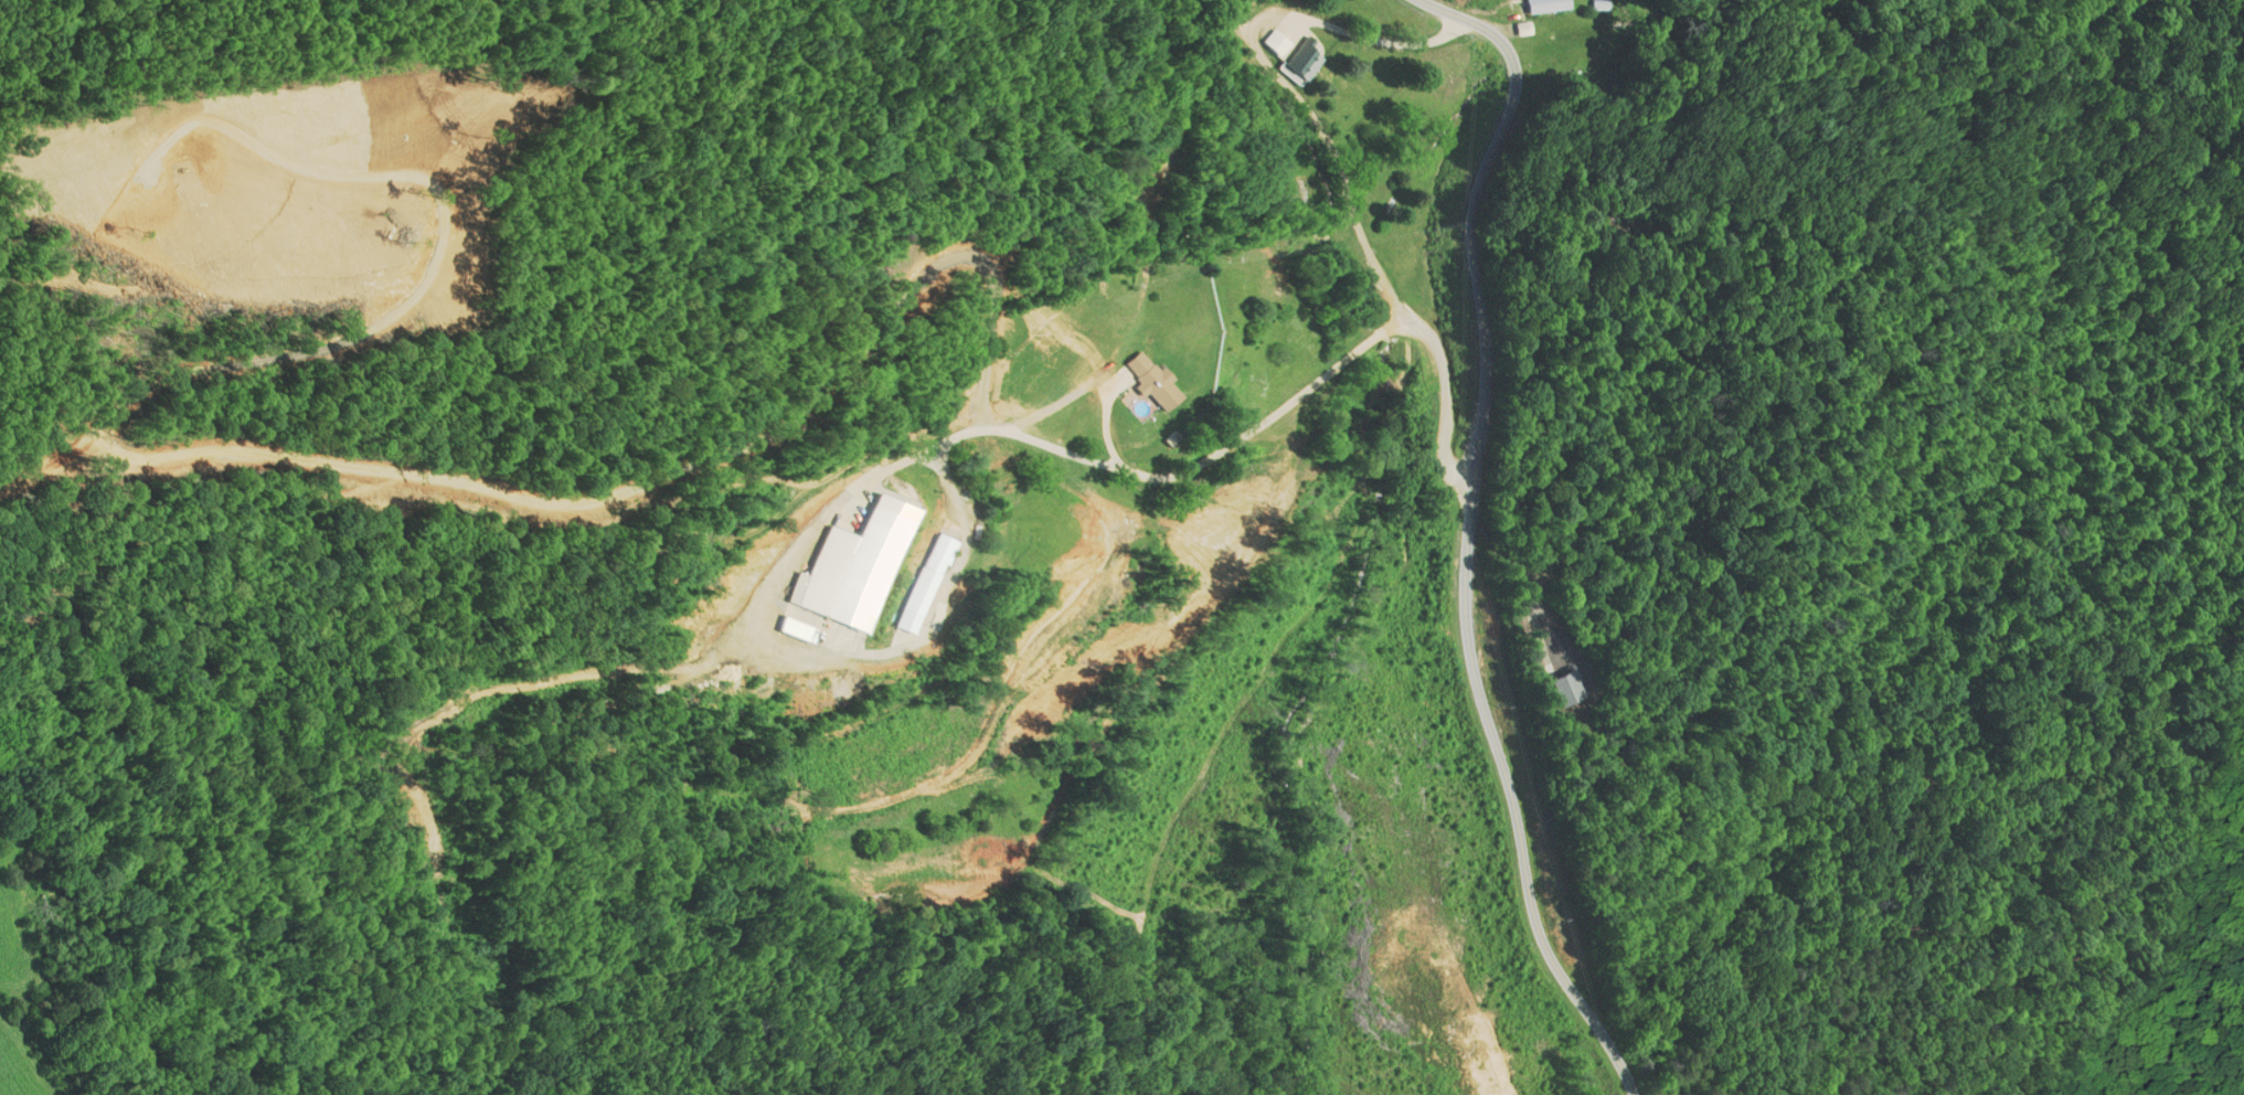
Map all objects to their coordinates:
building: (1551, 6)
building: (1277, 42)
building: (1306, 61)
road: (1337, 149)
building: (1148, 381)
road: (1107, 423)
road: (882, 474)
road: (1475, 539)
building: (938, 552)
road: (1523, 582)
building: (919, 589)

